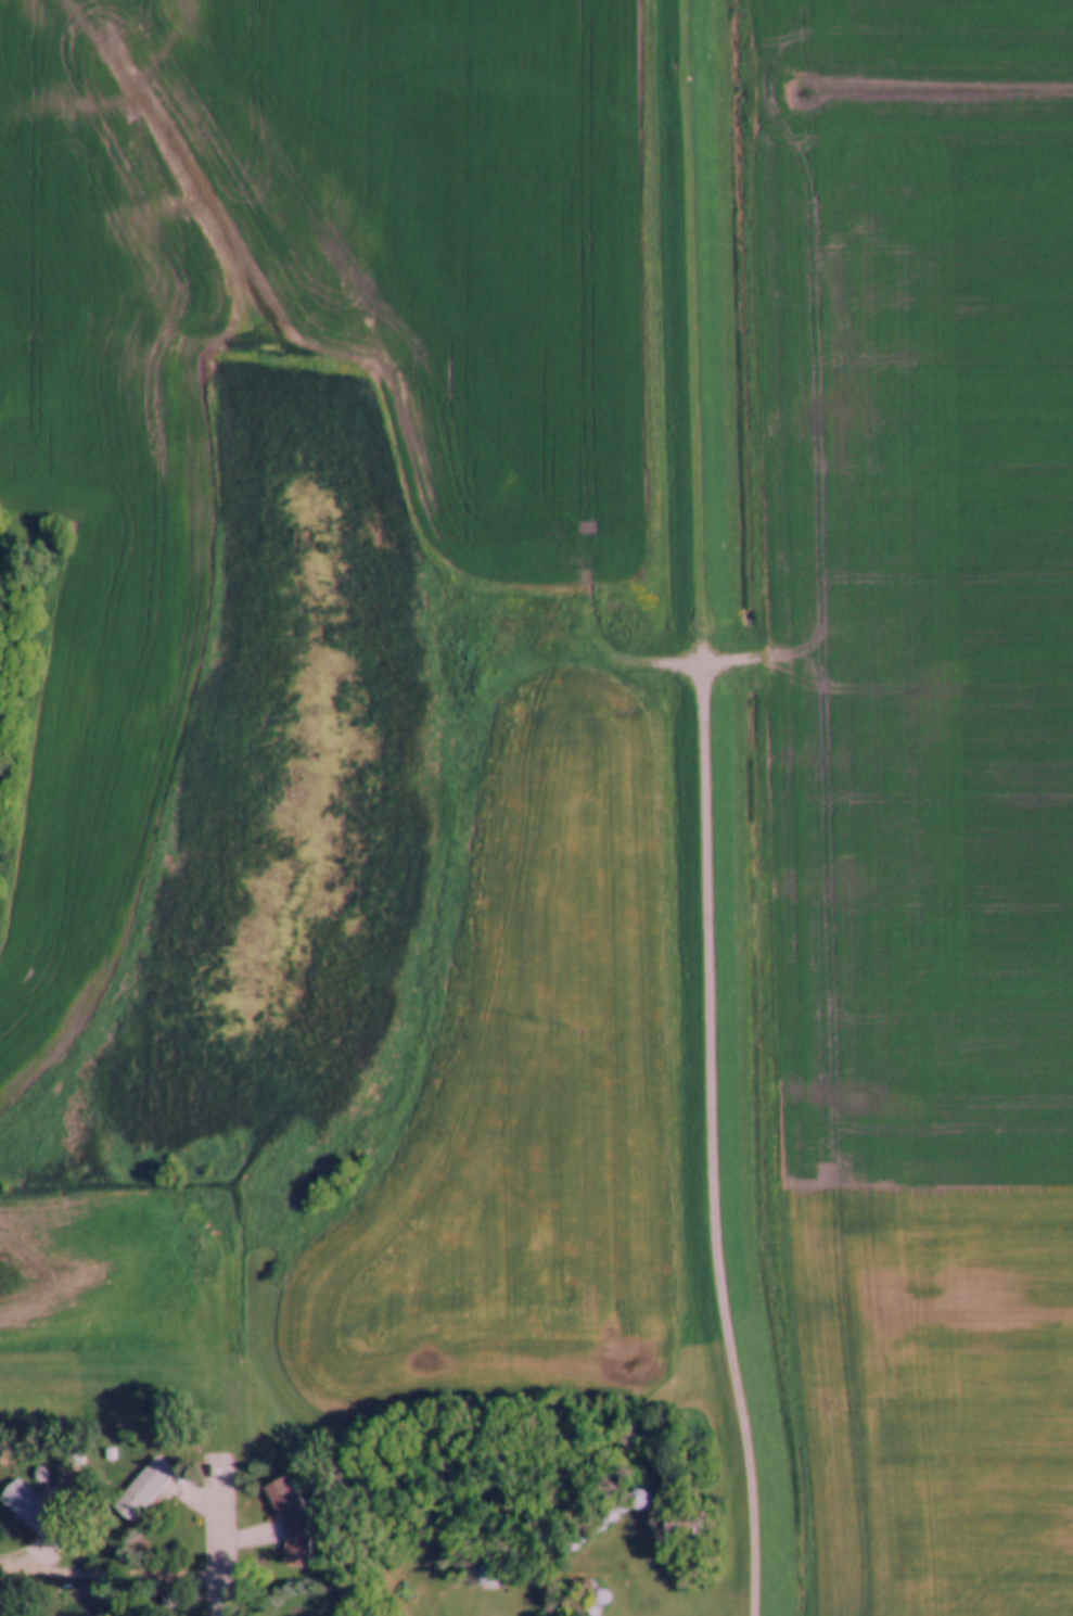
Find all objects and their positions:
road: (704, 1137)
building: (145, 1489)
building: (25, 1504)
building: (290, 1520)
road: (222, 1535)
road: (112, 1575)

